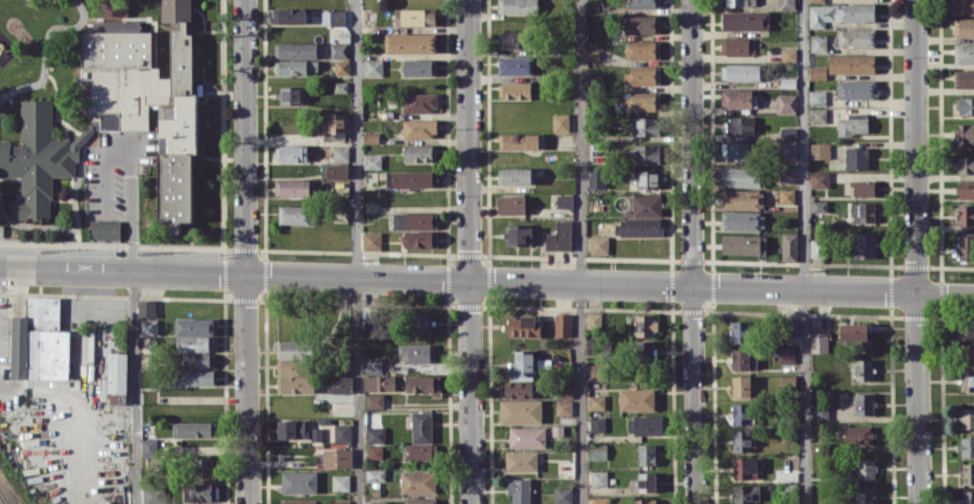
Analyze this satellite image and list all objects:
building: (816, 0)
building: (739, 2)
building: (645, 3)
building: (517, 6)
building: (962, 7)
building: (113, 8)
building: (840, 13)
building: (289, 15)
building: (333, 17)
building: (415, 17)
building: (745, 20)
building: (642, 24)
building: (964, 27)
building: (855, 37)
building: (513, 39)
building: (411, 43)
building: (818, 43)
building: (737, 46)
building: (643, 49)
building: (296, 50)
building: (338, 50)
building: (964, 53)
building: (788, 54)
building: (851, 63)
building: (515, 65)
building: (296, 67)
building: (341, 67)
building: (373, 67)
building: (419, 67)
building: (740, 71)
building: (817, 72)
building: (640, 76)
building: (964, 79)
building: (341, 86)
building: (856, 89)
building: (515, 90)
building: (290, 95)
building: (148, 97)
building: (817, 97)
building: (738, 98)
building: (643, 101)
building: (420, 102)
building: (787, 103)
building: (963, 106)
building: (818, 115)
building: (560, 122)
building: (853, 124)
building: (334, 125)
building: (739, 125)
building: (646, 126)
building: (420, 128)
building: (788, 133)
building: (965, 133)
road: (244, 137)
building: (371, 137)
road: (468, 140)
building: (519, 141)
road: (692, 143)
road: (916, 146)
building: (787, 149)
building: (736, 150)
building: (819, 150)
building: (291, 152)
building: (420, 153)
building: (646, 153)
building: (341, 154)
building: (856, 157)
building: (39, 158)
building: (372, 161)
building: (965, 164)
building: (515, 175)
building: (787, 175)
building: (741, 176)
building: (411, 178)
building: (597, 178)
building: (648, 179)
building: (820, 179)
building: (292, 187)
building: (863, 188)
building: (966, 190)
building: (786, 196)
building: (743, 199)
building: (565, 201)
building: (512, 204)
building: (647, 205)
building: (820, 206)
building: (863, 211)
building: (296, 214)
building: (964, 214)
building: (414, 220)
building: (742, 220)
building: (640, 227)
building: (105, 229)
building: (1, 230)
building: (519, 235)
building: (560, 236)
building: (421, 239)
building: (371, 240)
building: (599, 244)
building: (744, 244)
building: (865, 245)
building: (789, 246)
building: (966, 246)
building: (818, 247)
road: (356, 252)
road: (581, 252)
road: (804, 252)
road: (457, 280)
road: (945, 293)
building: (146, 308)
building: (368, 317)
road: (133, 318)
building: (594, 320)
building: (421, 321)
building: (562, 324)
building: (645, 325)
building: (149, 326)
building: (524, 326)
building: (966, 329)
building: (740, 331)
building: (194, 334)
building: (856, 335)
building: (40, 341)
building: (819, 342)
building: (644, 348)
building: (417, 352)
building: (967, 354)
building: (786, 355)
building: (294, 357)
building: (740, 358)
building: (196, 360)
building: (522, 362)
building: (373, 364)
building: (862, 369)
building: (598, 371)
building: (116, 375)
building: (967, 380)
building: (787, 382)
building: (379, 383)
road: (6, 384)
building: (297, 384)
building: (423, 384)
building: (741, 386)
road: (246, 389)
building: (516, 389)
building: (564, 391)
road: (470, 392)
road: (694, 395)
road: (917, 398)
building: (637, 399)
building: (374, 400)
building: (597, 402)
building: (864, 403)
building: (563, 407)
building: (520, 411)
building: (820, 411)
building: (742, 413)
building: (967, 417)
building: (597, 424)
building: (645, 425)
building: (421, 426)
building: (196, 429)
building: (291, 429)
building: (342, 433)
building: (316, 434)
building: (375, 435)
building: (853, 435)
building: (527, 436)
building: (743, 440)
building: (967, 446)
building: (147, 447)
building: (375, 451)
building: (420, 451)
building: (599, 451)
building: (646, 454)
building: (337, 458)
building: (521, 460)
building: (202, 466)
building: (746, 467)
building: (865, 468)
building: (968, 473)
building: (375, 474)
building: (599, 478)
building: (418, 481)
building: (299, 482)
building: (340, 482)
building: (643, 482)
building: (519, 489)
building: (202, 492)
building: (745, 493)
building: (865, 494)
building: (563, 495)
building: (968, 497)
railway: (2, 500)
building: (420, 500)
building: (600, 500)
building: (298, 501)
building: (644, 501)
building: (340, 502)
building: (377, 502)

